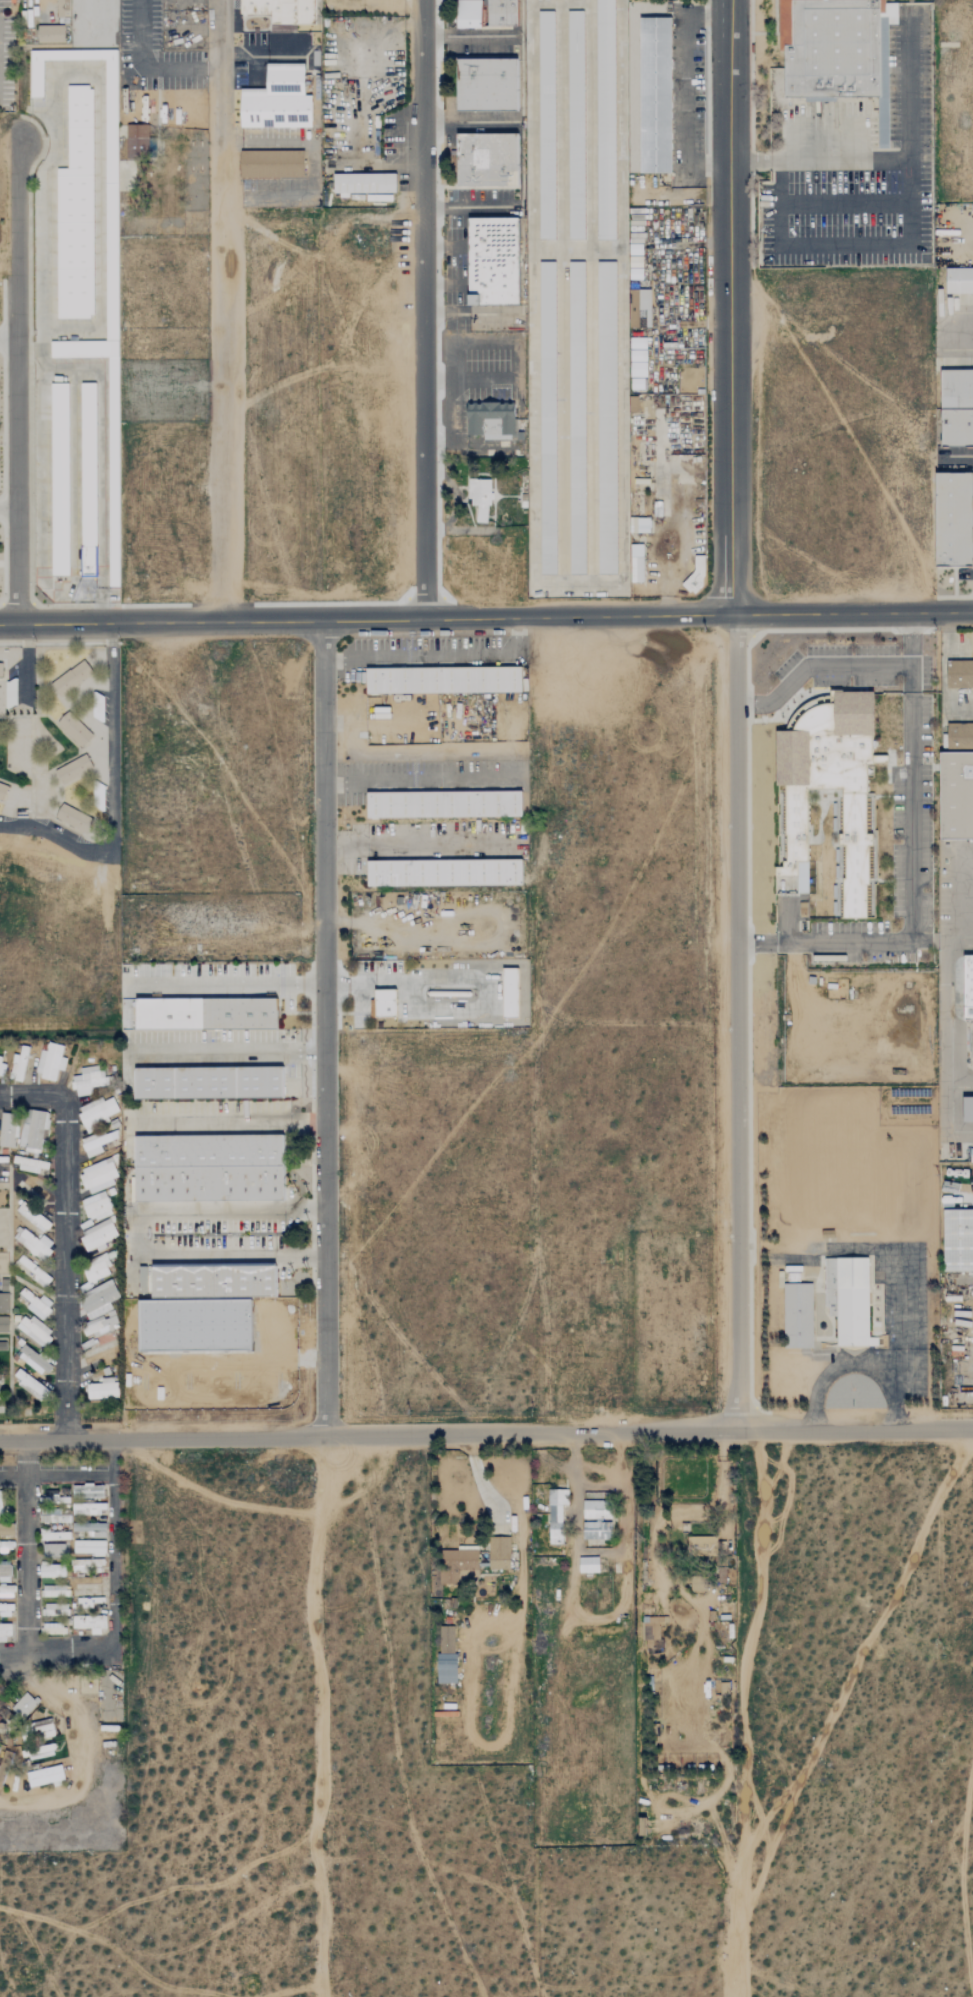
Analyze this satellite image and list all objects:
building: (62, 8)
building: (283, 10)
building: (502, 12)
building: (469, 14)
building: (50, 33)
road: (472, 36)
building: (828, 50)
road: (258, 52)
parking lot: (250, 61)
road: (148, 68)
road: (221, 72)
building: (885, 72)
building: (488, 84)
road: (685, 89)
building: (655, 95)
building: (278, 99)
building: (133, 154)
building: (487, 160)
road: (846, 162)
building: (272, 163)
road: (737, 163)
parking lot: (857, 170)
building: (366, 178)
road: (847, 203)
road: (909, 246)
building: (492, 262)
building: (959, 279)
road: (3, 281)
building: (578, 287)
building: (638, 306)
road: (727, 307)
road: (424, 310)
building: (75, 329)
parking lot: (959, 330)
road: (946, 333)
road: (9, 338)
road: (516, 354)
building: (637, 357)
road: (18, 378)
road: (449, 380)
road: (225, 383)
building: (956, 386)
building: (493, 419)
building: (956, 426)
road: (3, 441)
building: (481, 497)
road: (9, 508)
building: (953, 519)
building: (666, 555)
road: (2, 563)
road: (854, 612)
road: (368, 621)
parking lot: (427, 652)
road: (438, 654)
road: (843, 665)
building: (0, 670)
building: (959, 674)
building: (72, 677)
building: (424, 679)
building: (502, 679)
building: (74, 729)
building: (72, 770)
building: (2, 791)
building: (957, 795)
road: (113, 800)
building: (445, 802)
building: (829, 803)
building: (73, 818)
road: (411, 844)
building: (445, 872)
road: (914, 893)
road: (406, 983)
building: (968, 987)
building: (510, 993)
building: (385, 1003)
building: (240, 1013)
road: (736, 1022)
road: (324, 1029)
road: (231, 1052)
building: (49, 1062)
building: (18, 1065)
building: (87, 1081)
building: (210, 1083)
building: (968, 1108)
building: (97, 1112)
building: (7, 1130)
building: (33, 1133)
building: (96, 1143)
building: (210, 1150)
building: (29, 1164)
building: (98, 1176)
building: (210, 1182)
building: (95, 1206)
building: (32, 1217)
building: (98, 1235)
road: (66, 1236)
road: (141, 1237)
building: (958, 1239)
building: (32, 1243)
building: (96, 1269)
building: (32, 1272)
building: (214, 1280)
building: (3, 1295)
building: (97, 1300)
building: (852, 1304)
building: (34, 1305)
building: (798, 1314)
road: (901, 1320)
building: (3, 1324)
building: (100, 1325)
building: (33, 1330)
building: (2, 1344)
building: (97, 1355)
building: (33, 1361)
road: (854, 1363)
building: (30, 1385)
building: (102, 1389)
road: (486, 1434)
building: (87, 1500)
building: (555, 1514)
building: (596, 1520)
building: (89, 1528)
building: (2, 1529)
building: (704, 1546)
building: (88, 1547)
road: (26, 1549)
building: (52, 1550)
building: (498, 1553)
building: (588, 1564)
building: (458, 1565)
building: (51, 1570)
building: (46, 1581)
building: (698, 1584)
building: (55, 1591)
building: (87, 1601)
road: (113, 1606)
building: (55, 1608)
building: (5, 1610)
building: (89, 1623)
building: (52, 1628)
building: (652, 1628)
building: (5, 1631)
building: (446, 1639)
building: (446, 1668)
building: (23, 1705)
road: (744, 1712)
road: (320, 1717)
building: (0, 1718)
building: (36, 1732)
building: (36, 1751)
building: (2, 1774)
building: (44, 1776)

